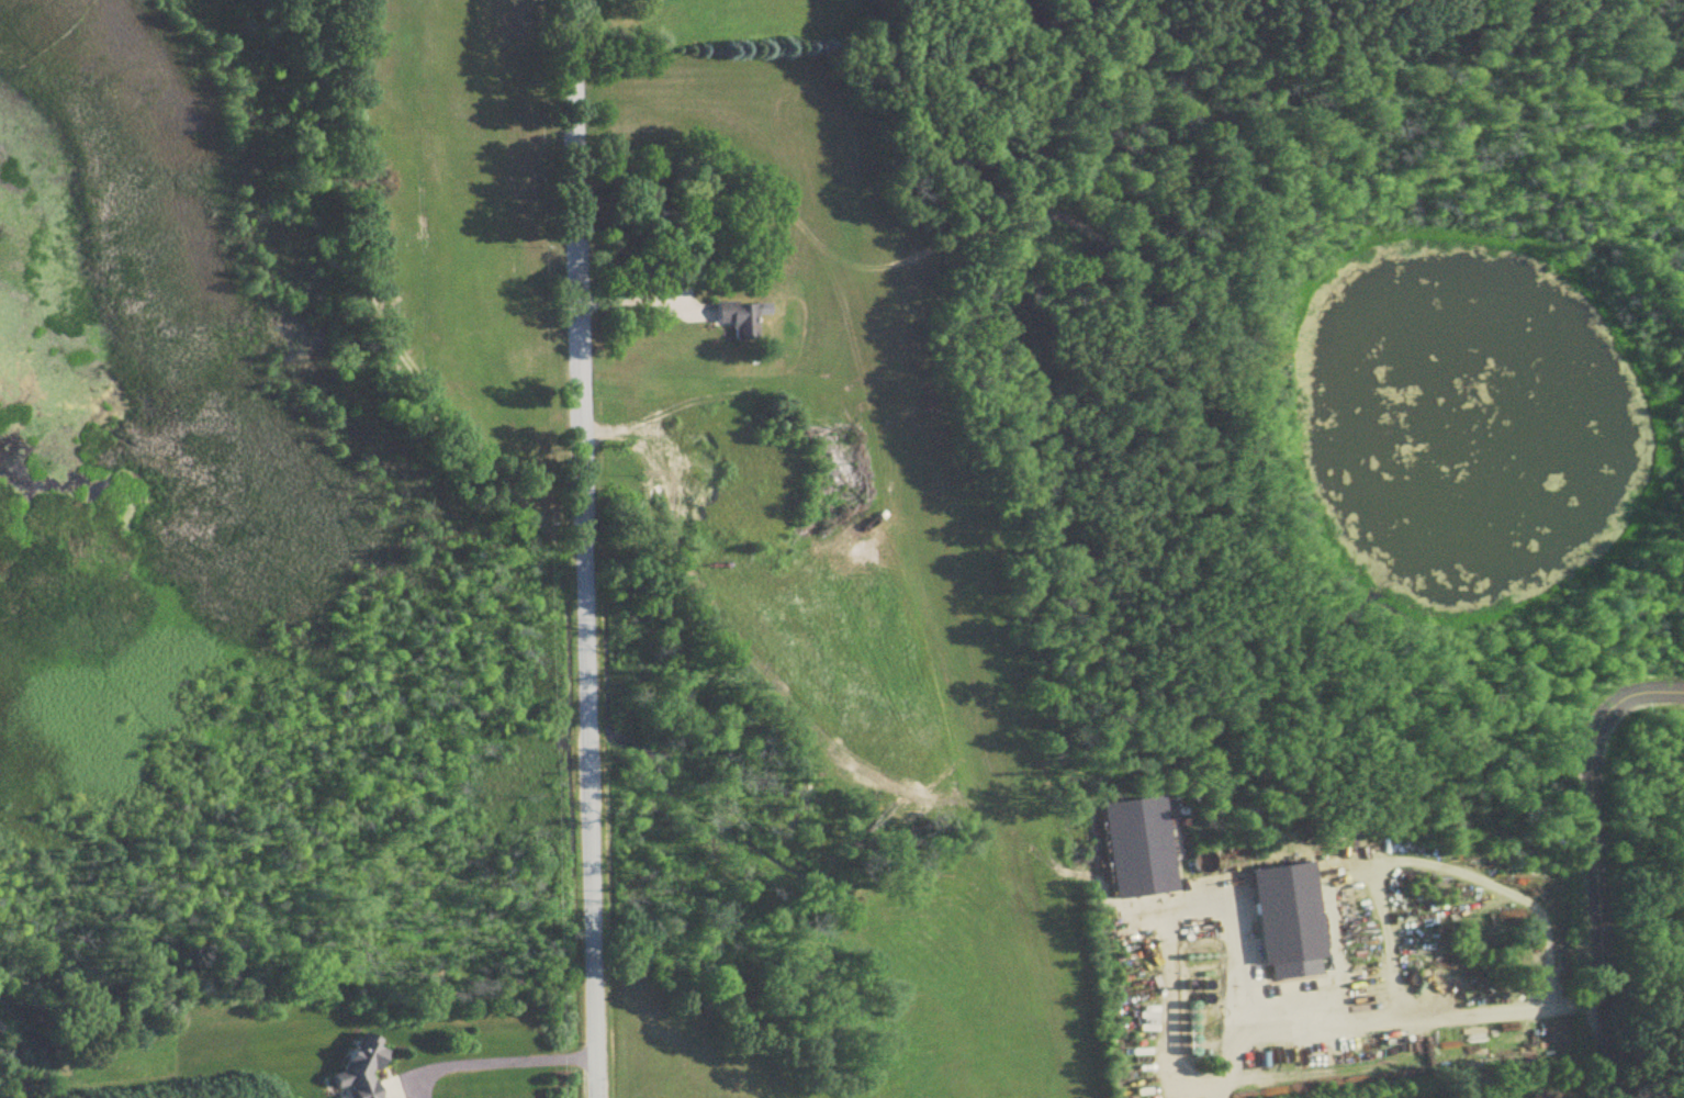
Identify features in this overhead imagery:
road: (640, 301)
building: (743, 317)
road: (583, 549)
road: (1617, 706)
building: (1132, 848)
building: (1281, 921)
road: (1601, 932)
road: (1392, 1020)
road: (492, 1062)

